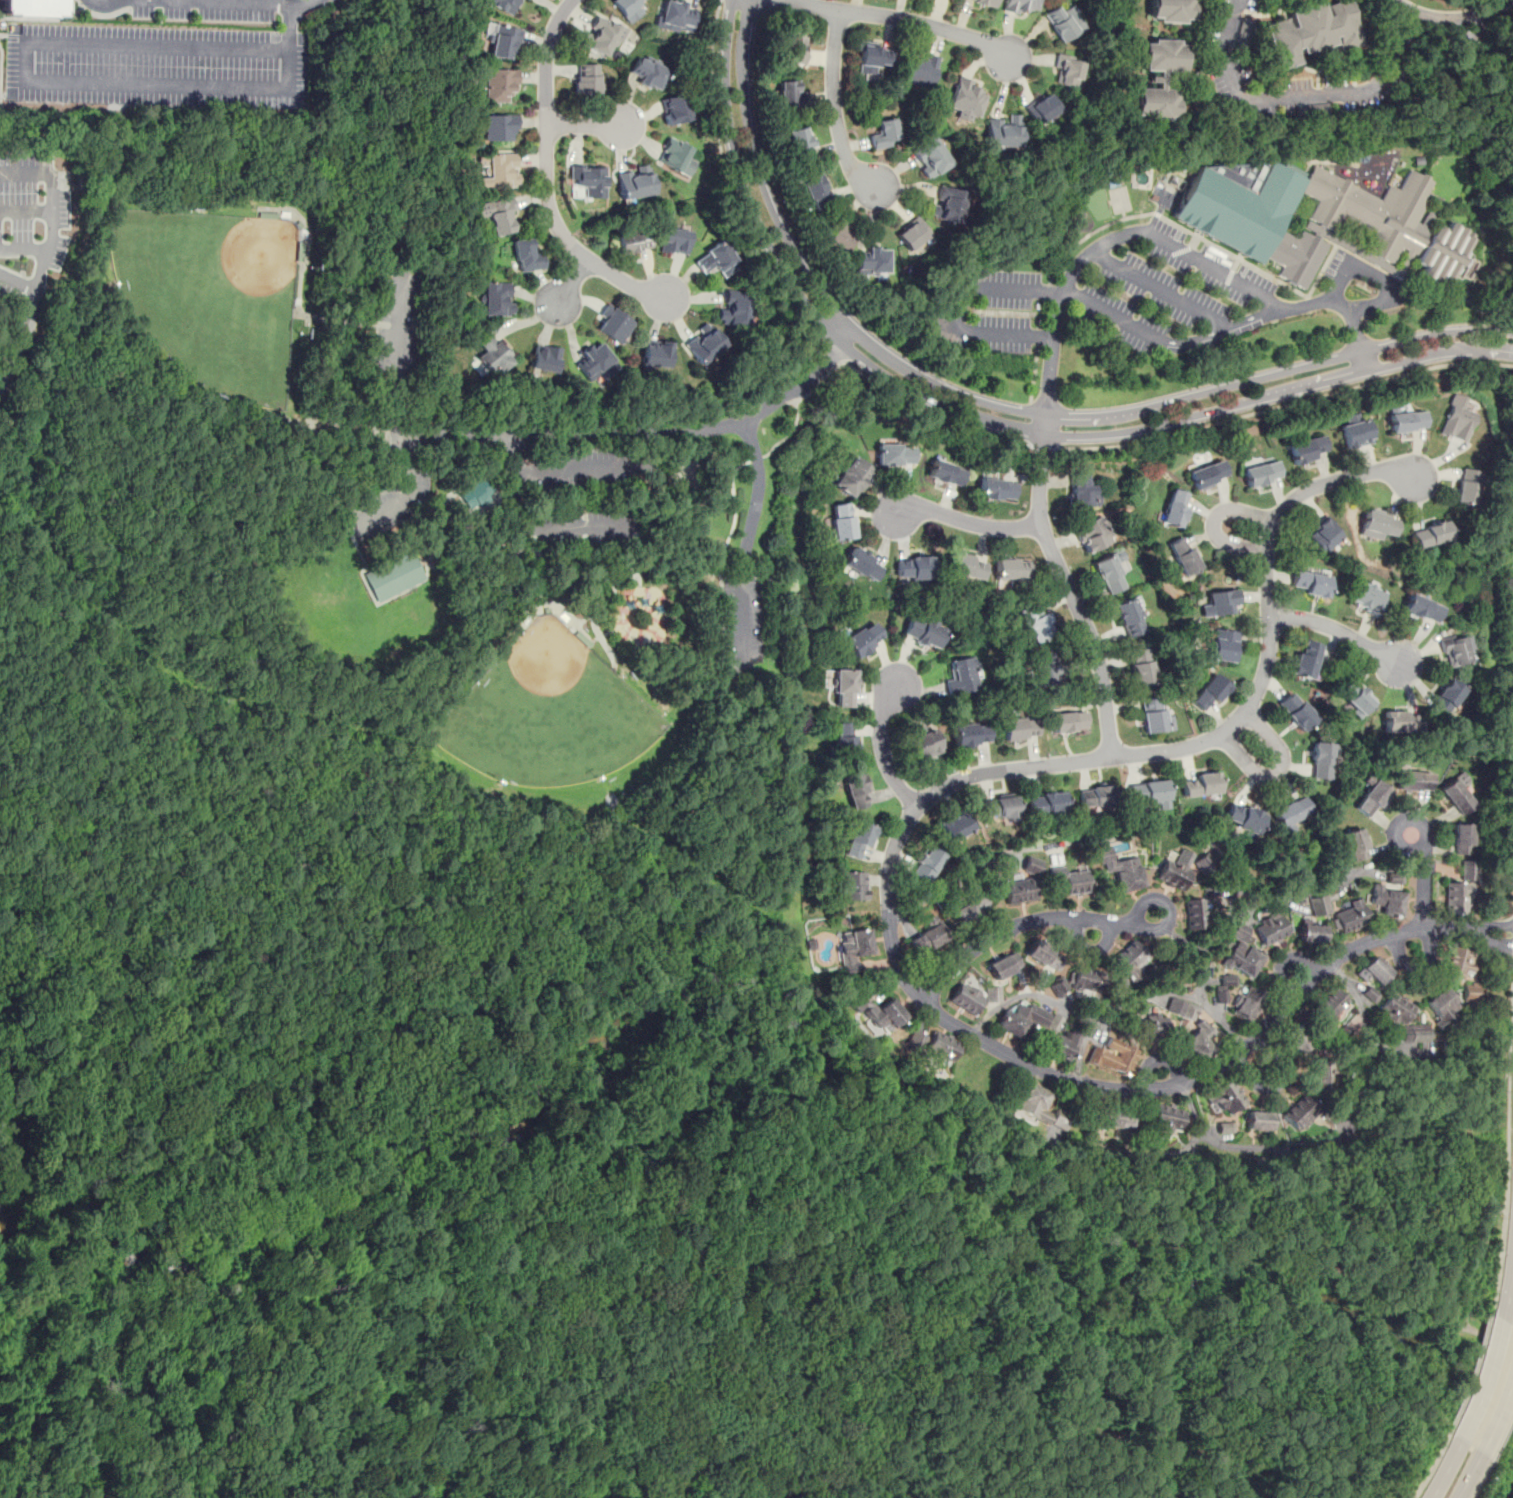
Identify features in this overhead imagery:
building: (985, 2)
road: (235, 3)
building: (502, 4)
road: (109, 5)
building: (1020, 5)
building: (30, 8)
building: (628, 8)
building: (1171, 10)
building: (674, 16)
road: (904, 18)
road: (1448, 18)
building: (1063, 22)
building: (1311, 32)
building: (601, 37)
road: (289, 39)
building: (502, 40)
building: (793, 49)
building: (872, 59)
road: (24, 61)
building: (1066, 69)
building: (921, 70)
building: (648, 73)
building: (1159, 79)
building: (585, 80)
building: (499, 84)
building: (788, 94)
road: (1297, 97)
building: (966, 98)
road: (833, 107)
building: (1042, 108)
building: (674, 109)
road: (583, 125)
building: (499, 128)
building: (1004, 131)
building: (884, 134)
building: (800, 144)
building: (675, 155)
building: (930, 156)
building: (499, 171)
road: (546, 178)
road: (726, 178)
building: (588, 180)
building: (635, 181)
building: (815, 189)
building: (948, 203)
road: (27, 212)
road: (53, 212)
building: (497, 215)
building: (1313, 218)
building: (839, 233)
road: (1090, 233)
building: (913, 234)
building: (633, 240)
building: (674, 240)
road: (1108, 242)
road: (23, 248)
building: (526, 256)
building: (717, 259)
building: (872, 260)
road: (1377, 276)
road: (19, 279)
road: (571, 281)
road: (1160, 289)
road: (1045, 291)
road: (1457, 298)
building: (496, 299)
park: (212, 303)
road: (1342, 304)
building: (735, 308)
road: (959, 309)
road: (1040, 314)
road: (1111, 314)
building: (614, 322)
parking lot: (399, 323)
road: (1217, 331)
road: (1037, 336)
building: (705, 342)
road: (18, 343)
road: (829, 346)
road: (1492, 348)
building: (657, 353)
building: (492, 354)
building: (545, 358)
building: (594, 360)
road: (1032, 378)
road: (873, 382)
road: (786, 390)
road: (1284, 404)
road: (999, 405)
road: (965, 413)
building: (1456, 419)
building: (1407, 420)
building: (1356, 433)
road: (518, 436)
road: (1043, 446)
building: (1308, 450)
road: (658, 453)
building: (895, 455)
road: (755, 458)
building: (945, 474)
building: (1207, 474)
building: (1262, 474)
park: (688, 475)
building: (851, 477)
building: (1468, 486)
road: (447, 490)
building: (996, 490)
building: (1080, 491)
parking lot: (582, 498)
road: (404, 499)
parking lot: (390, 507)
building: (1175, 507)
road: (968, 521)
road: (1212, 521)
road: (631, 523)
building: (841, 523)
building: (1378, 524)
road: (583, 527)
building: (1430, 534)
building: (1095, 535)
building: (1323, 535)
road: (747, 539)
road: (524, 551)
building: (1182, 556)
building: (861, 565)
building: (966, 566)
building: (914, 567)
road: (721, 568)
building: (1012, 570)
building: (1108, 575)
building: (395, 578)
building: (1310, 583)
road: (537, 584)
road: (1067, 586)
building: (1367, 598)
building: (1222, 603)
building: (1423, 608)
road: (593, 610)
building: (1129, 618)
parking lot: (745, 621)
building: (1033, 623)
road: (1337, 631)
building: (923, 632)
building: (863, 639)
building: (1222, 646)
building: (1454, 650)
building: (1305, 658)
building: (1140, 666)
building: (1044, 668)
building: (961, 677)
park: (525, 688)
building: (844, 688)
building: (1209, 693)
building: (1356, 697)
building: (1446, 697)
building: (1296, 711)
park: (549, 715)
building: (1155, 718)
building: (1401, 721)
building: (1068, 723)
building: (1019, 729)
building: (971, 736)
building: (844, 739)
building: (924, 745)
road: (881, 747)
building: (1322, 761)
road: (1277, 771)
building: (1413, 781)
building: (1200, 784)
road: (686, 787)
building: (855, 789)
building: (1148, 793)
building: (1456, 797)
building: (1096, 798)
building: (1371, 799)
building: (1046, 804)
building: (998, 808)
building: (1291, 812)
building: (1243, 816)
building: (955, 827)
building: (858, 839)
building: (1462, 839)
building: (1355, 845)
road: (890, 860)
building: (1204, 863)
building: (927, 864)
building: (1176, 870)
building: (1121, 871)
road: (1423, 878)
building: (1073, 882)
building: (852, 885)
building: (1461, 885)
building: (1019, 891)
building: (1387, 900)
building: (1319, 907)
building: (971, 911)
building: (1195, 916)
building: (1347, 918)
road: (1023, 922)
road: (1489, 925)
building: (1270, 929)
building: (1311, 934)
road: (1512, 938)
building: (928, 940)
road: (1488, 940)
building: (852, 950)
building: (1242, 954)
building: (1042, 955)
building: (1128, 959)
building: (1457, 965)
building: (1003, 966)
building: (1374, 972)
road: (770, 976)
building: (1085, 980)
building: (1059, 987)
building: (1224, 987)
building: (1470, 992)
building: (993, 994)
building: (966, 999)
building: (1248, 1005)
building: (1442, 1005)
building: (1330, 1006)
building: (1396, 1009)
building: (1181, 1010)
building: (877, 1013)
building: (1022, 1020)
building: (1151, 1029)
building: (1416, 1034)
building: (1342, 1035)
building: (916, 1038)
building: (1296, 1039)
building: (1200, 1040)
building: (1061, 1046)
building: (941, 1048)
building: (1113, 1058)
road: (1508, 1085)
building: (1225, 1097)
building: (1039, 1108)
building: (1300, 1113)
building: (1112, 1118)
building: (1167, 1119)
road: (566, 1121)
building: (1258, 1121)
road: (712, 1129)
road: (712, 1158)
road: (796, 1227)
road: (407, 1228)
road: (1499, 1257)
road: (1475, 1262)
road: (319, 1270)
road: (1508, 1292)
road: (291, 1294)
road: (879, 1316)
road: (274, 1317)
road: (898, 1362)
road: (1472, 1371)
road: (1485, 1380)
road: (477, 1383)
road: (904, 1389)
road: (1498, 1409)
road: (270, 1418)
road: (1501, 1430)
road: (623, 1447)
road: (862, 1450)
road: (1431, 1464)
road: (1445, 1468)
road: (1469, 1475)
road: (1479, 1479)
road: (647, 1480)
park: (302, 1488)

